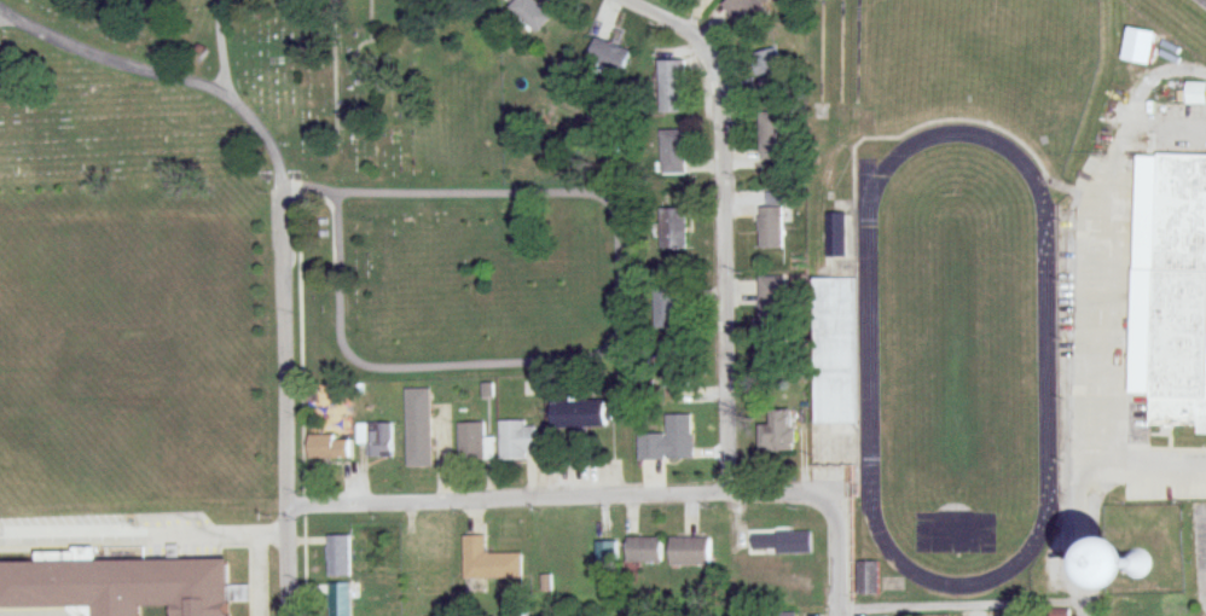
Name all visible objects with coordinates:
building: (530, 12)
building: (746, 12)
building: (1137, 45)
road: (224, 47)
park: (972, 47)
building: (607, 58)
road: (111, 59)
building: (770, 69)
building: (672, 87)
building: (1195, 93)
building: (771, 136)
road: (266, 138)
building: (674, 152)
park: (334, 174)
road: (727, 221)
building: (771, 227)
building: (673, 228)
building: (840, 233)
road: (1092, 261)
building: (1171, 285)
building: (673, 307)
building: (772, 313)
road: (1121, 318)
road: (619, 325)
building: (837, 349)
park: (961, 353)
park: (959, 358)
track: (1049, 360)
building: (669, 379)
road: (289, 403)
building: (578, 414)
building: (419, 428)
building: (777, 429)
building: (679, 436)
building: (381, 438)
building: (516, 440)
building: (330, 447)
road: (1156, 466)
road: (561, 499)
road: (1084, 536)
building: (644, 550)
building: (689, 551)
building: (607, 552)
building: (341, 556)
road: (837, 558)
building: (488, 562)
water tower: (1141, 565)
building: (868, 579)
building: (117, 583)
building: (341, 599)
road: (963, 605)
building: (784, 612)

